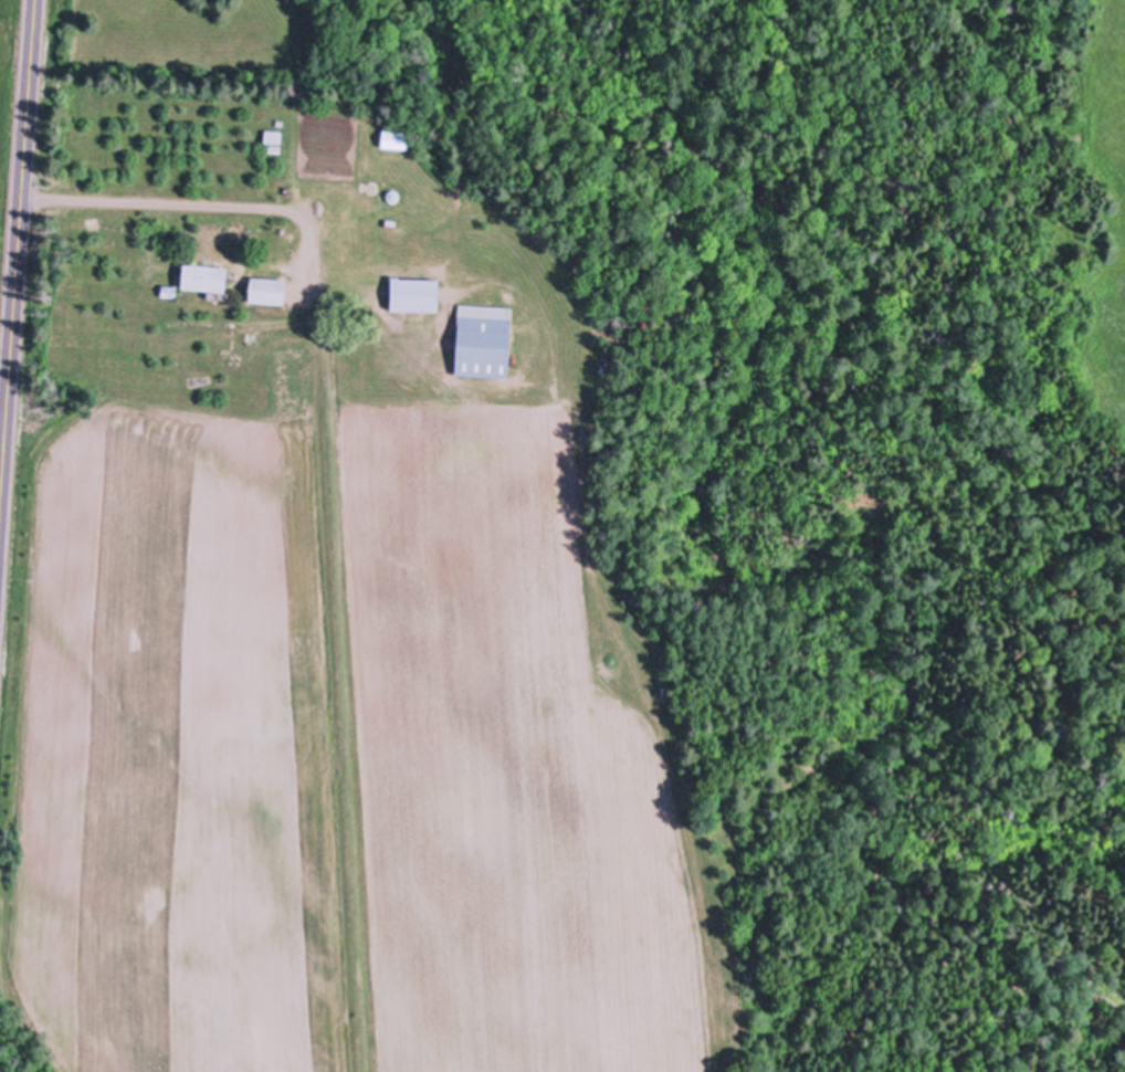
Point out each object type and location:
building: (328, 113)
building: (272, 137)
building: (393, 140)
building: (391, 197)
road: (201, 207)
road: (18, 264)
building: (204, 281)
building: (168, 292)
building: (266, 292)
building: (413, 296)
building: (482, 347)

